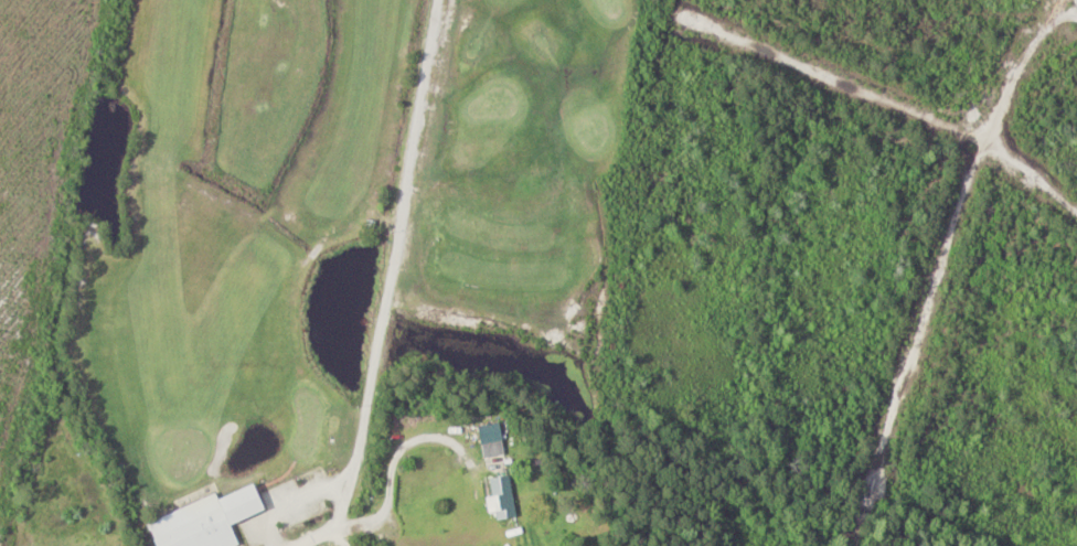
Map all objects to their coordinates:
road: (402, 242)
building: (493, 440)
road: (314, 491)
building: (503, 499)
road: (331, 534)

